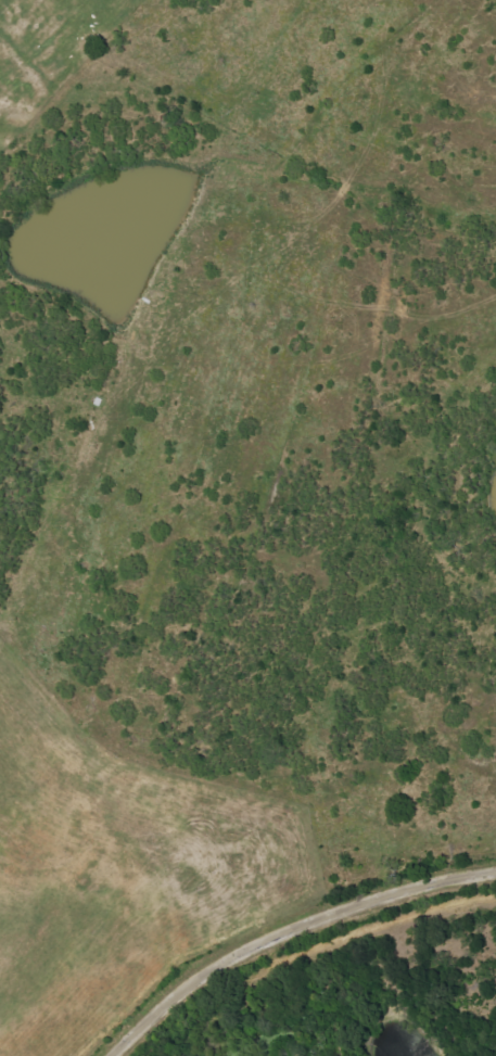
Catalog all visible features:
road: (292, 942)

